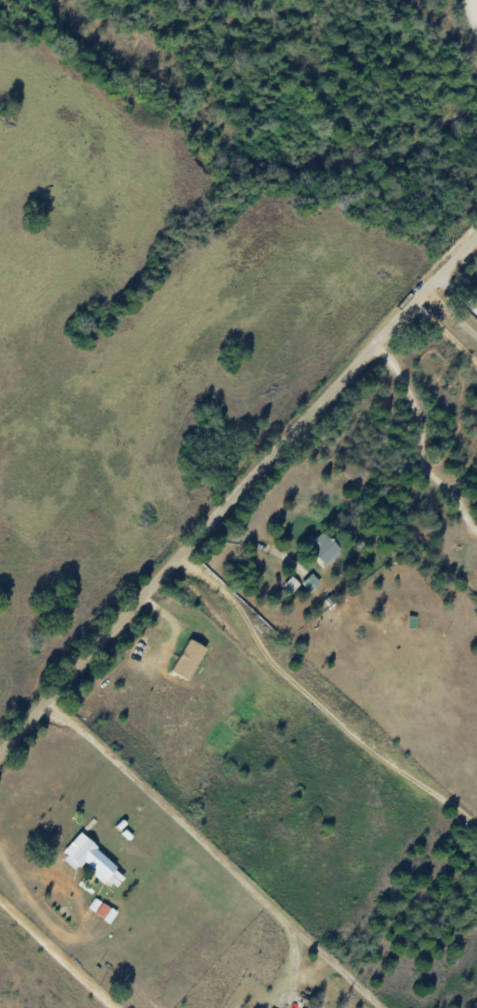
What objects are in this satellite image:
road: (470, 17)
road: (459, 293)
road: (452, 311)
road: (444, 335)
road: (420, 446)
road: (237, 498)
building: (323, 549)
building: (310, 583)
building: (291, 584)
building: (188, 661)
road: (313, 704)
road: (215, 854)
building: (92, 862)
building: (99, 908)
road: (82, 927)
road: (57, 955)

